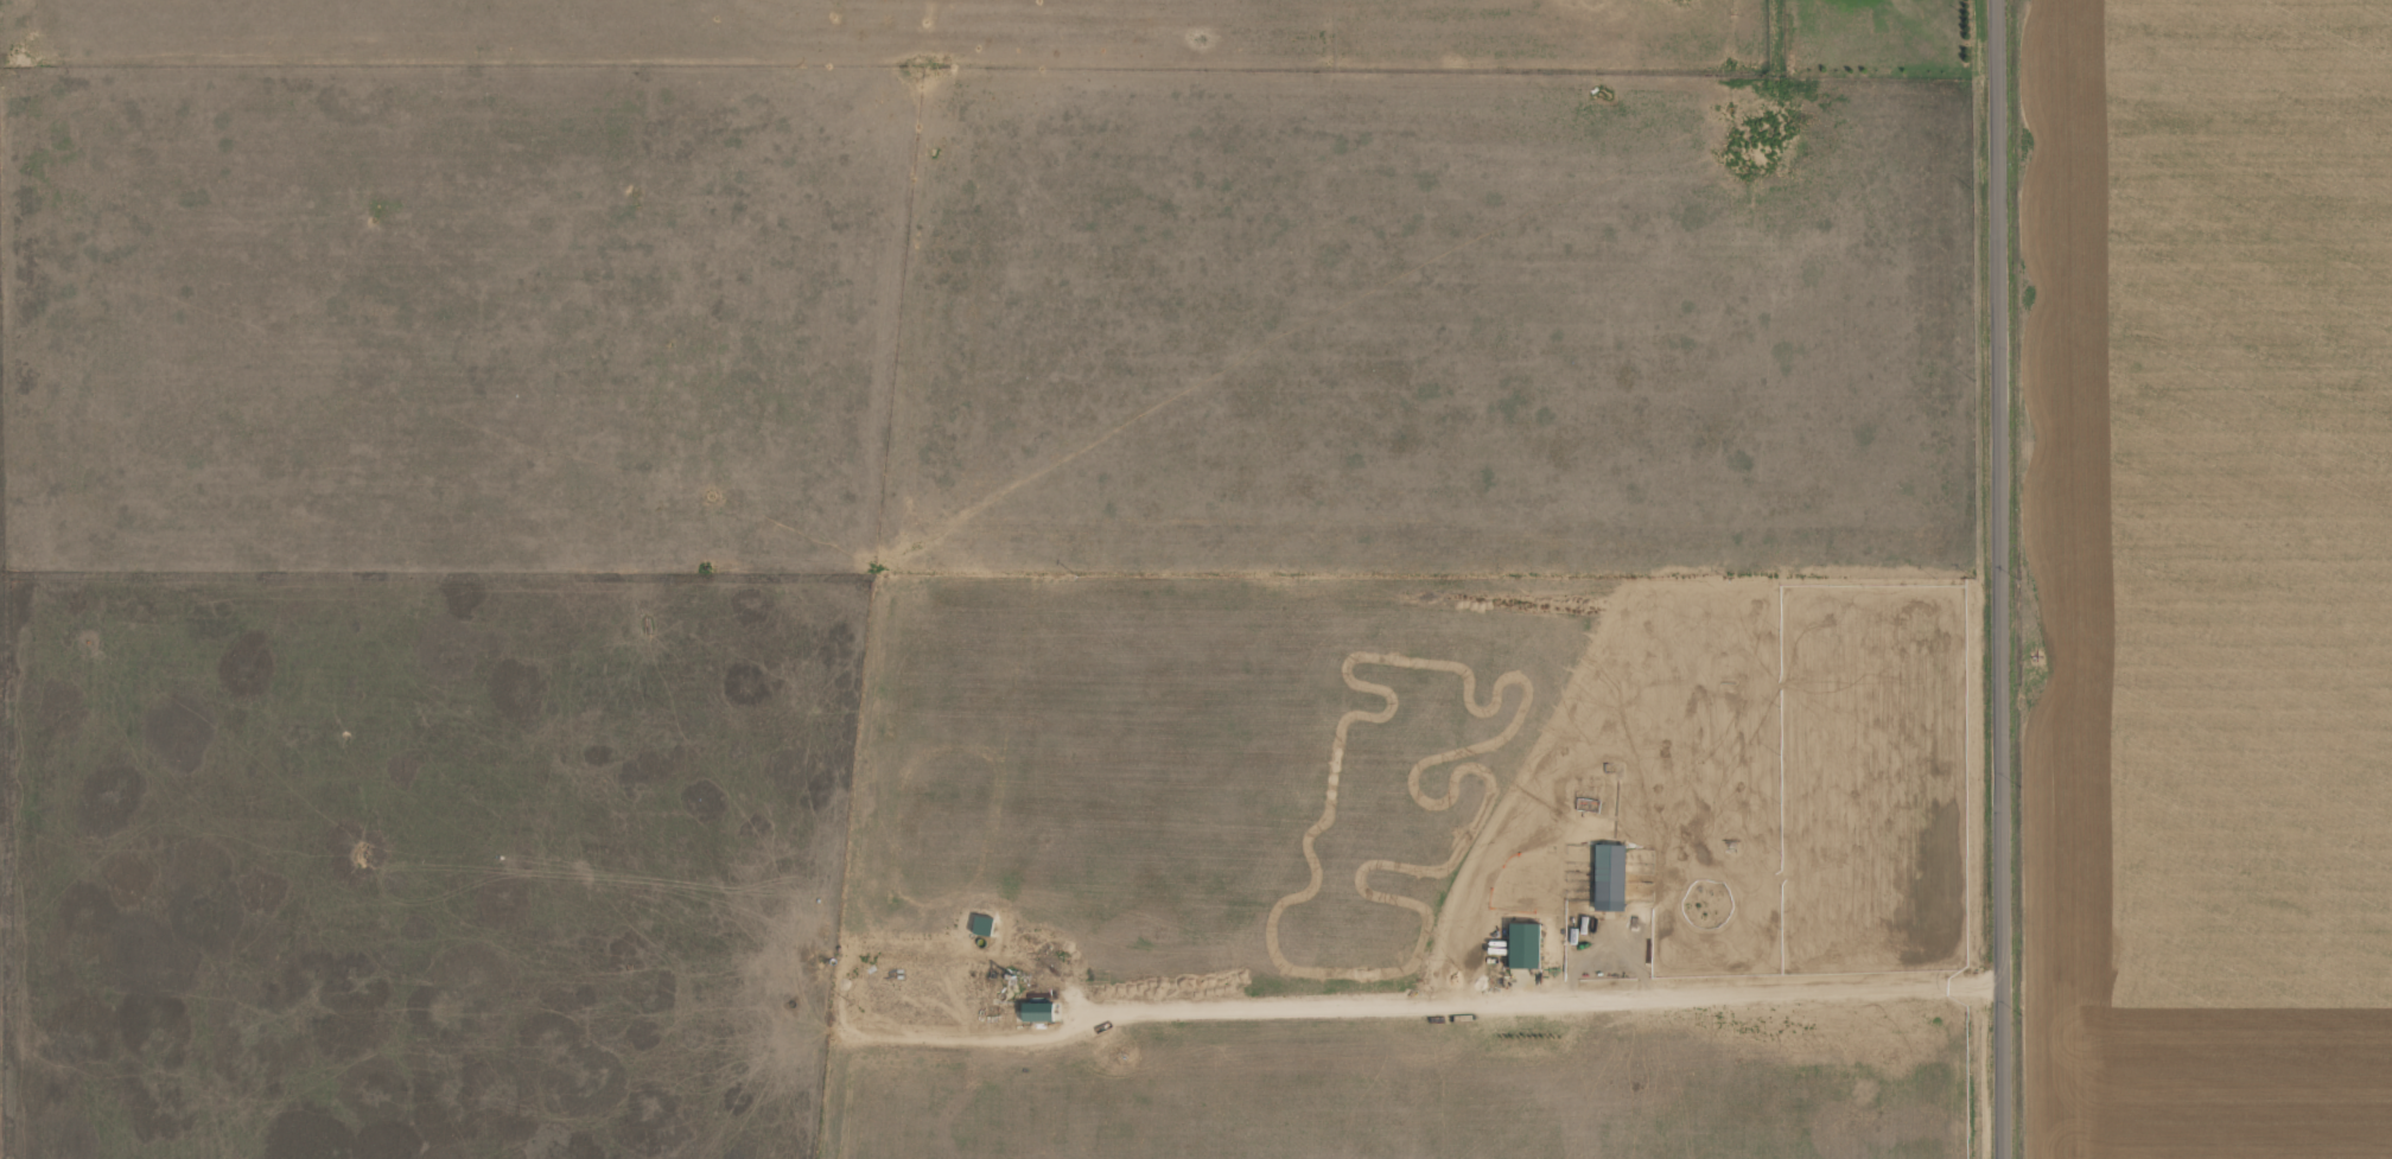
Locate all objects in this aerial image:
road: (2002, 579)
building: (1615, 878)
building: (1531, 945)

